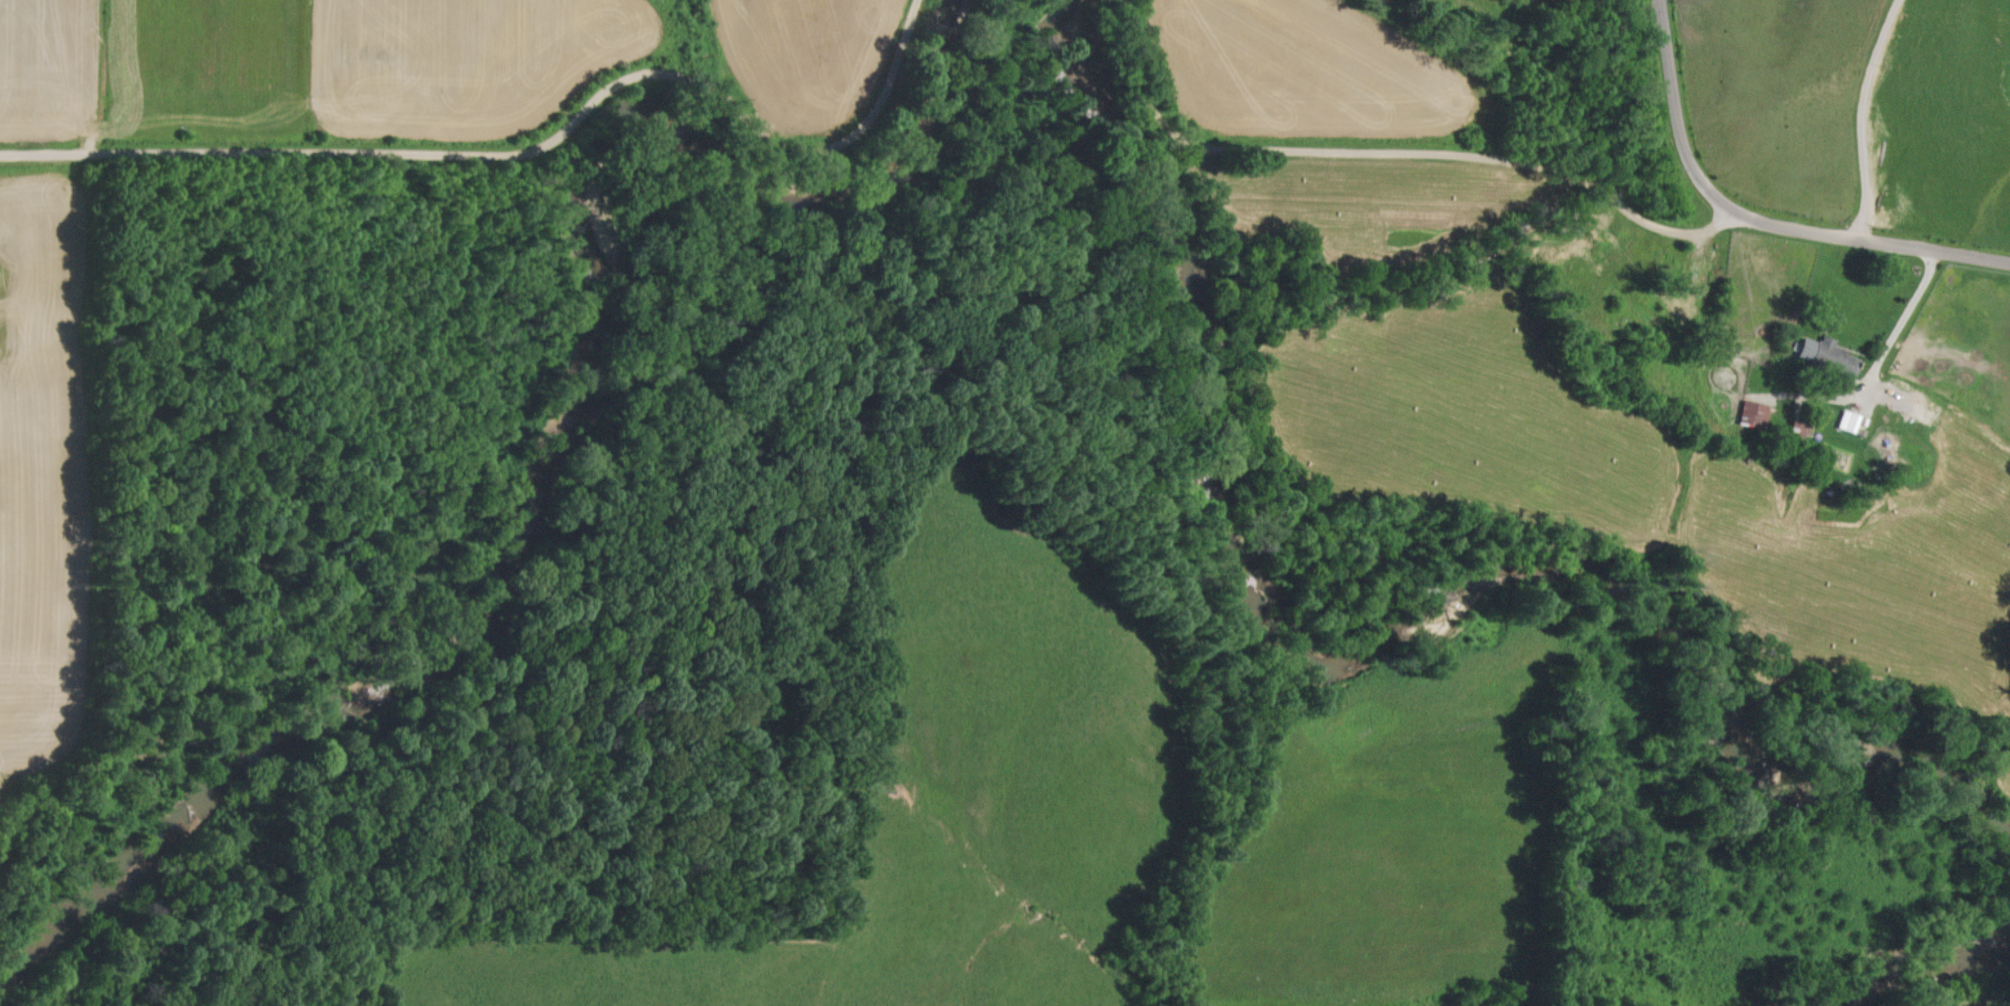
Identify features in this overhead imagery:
road: (529, 153)
road: (1392, 154)
road: (1756, 219)
road: (1907, 310)
building: (1828, 353)
building: (1753, 413)
building: (1848, 420)
building: (1797, 427)
river: (550, 440)
river: (1380, 630)
river: (1927, 967)

